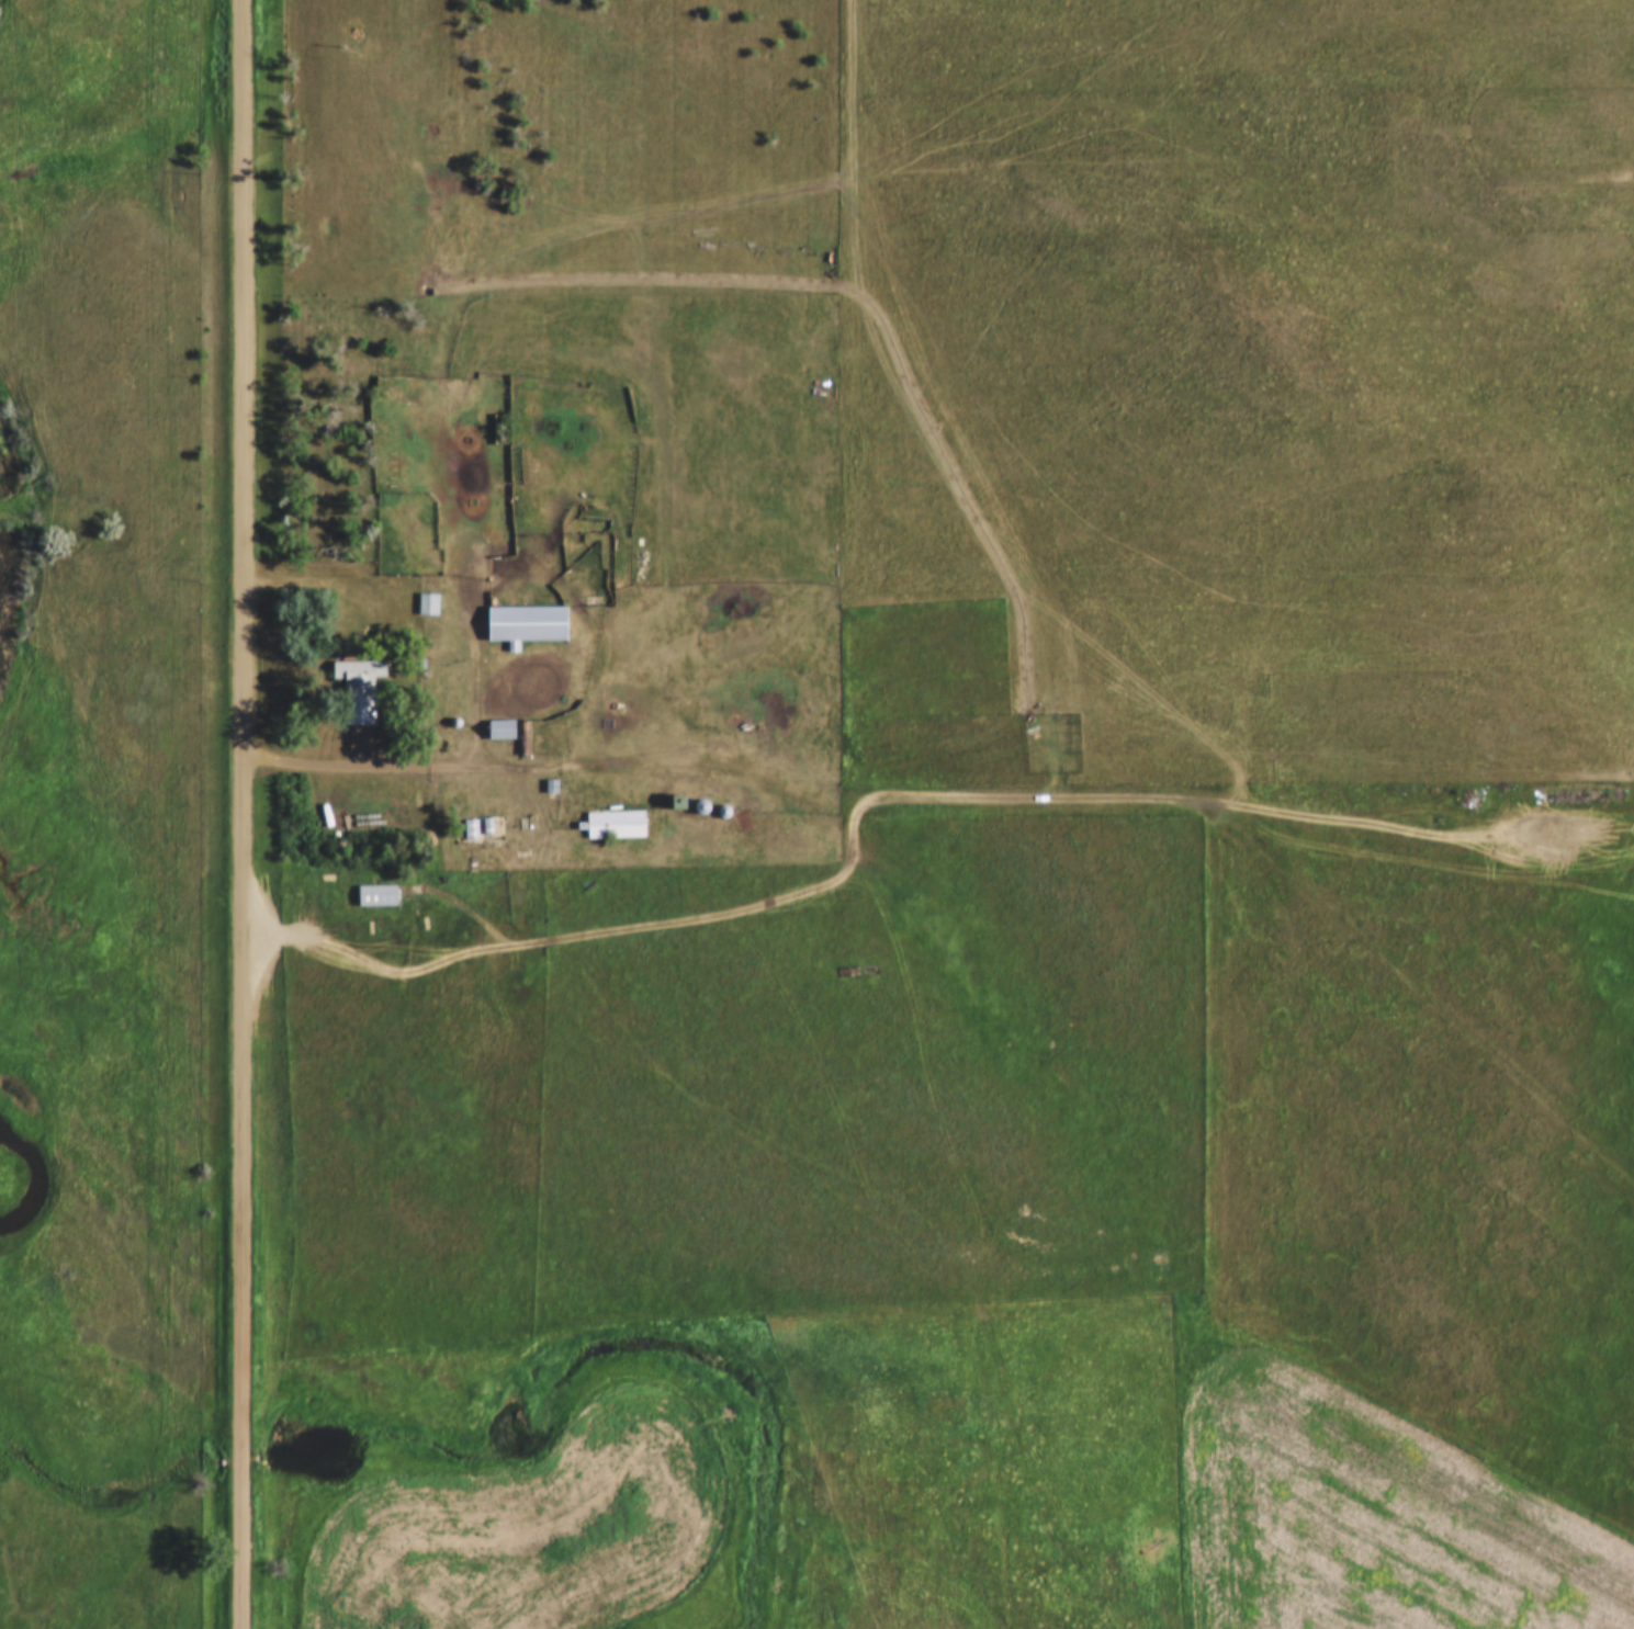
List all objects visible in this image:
building: (396, 376)
road: (311, 584)
building: (429, 592)
building: (523, 612)
building: (357, 678)
building: (500, 717)
road: (414, 770)
road: (1177, 802)
building: (616, 813)
road: (246, 814)
building: (376, 883)

